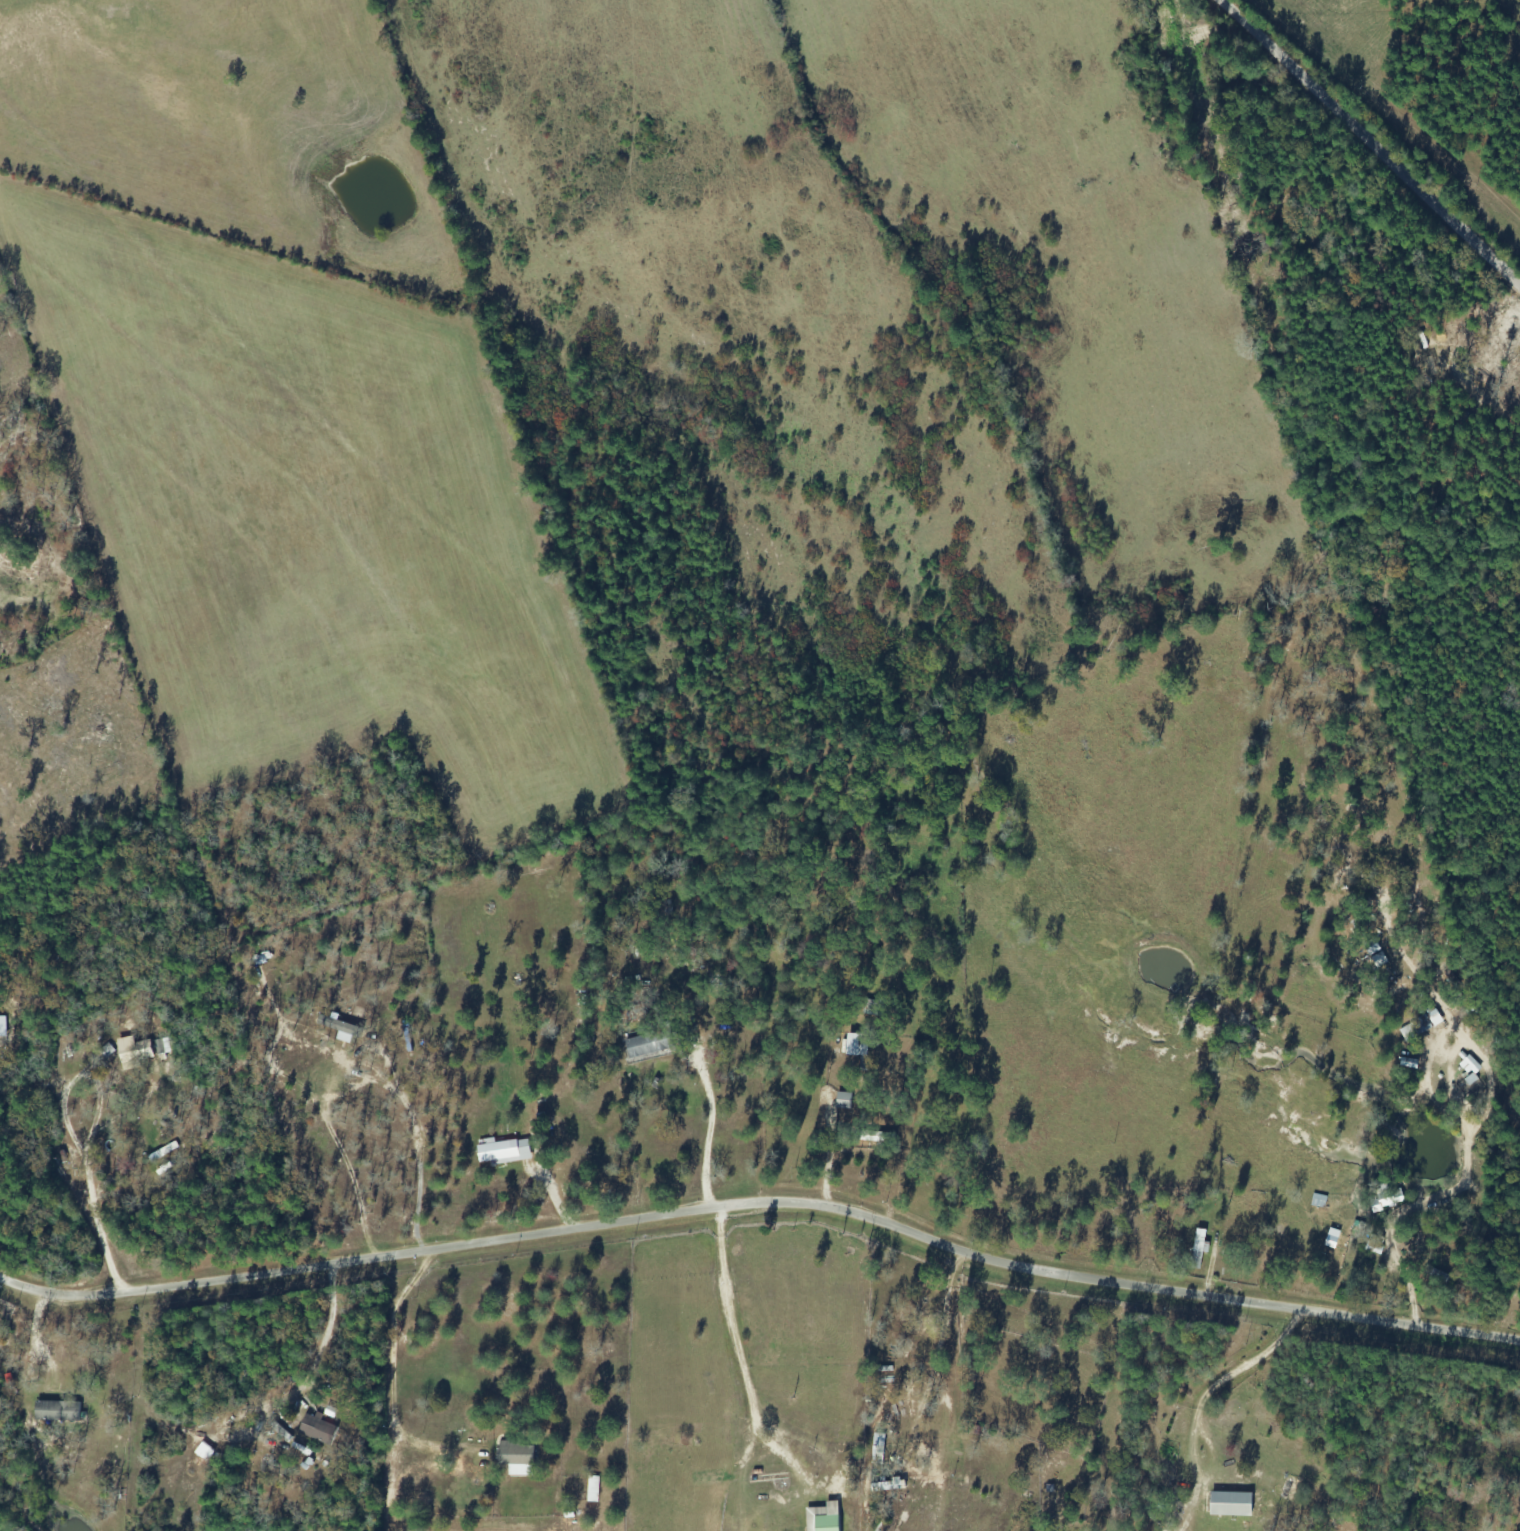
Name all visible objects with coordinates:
road: (1367, 144)
building: (1423, 1026)
building: (343, 1029)
building: (857, 1045)
building: (139, 1052)
building: (1471, 1074)
building: (505, 1152)
building: (1387, 1199)
road: (763, 1202)
building: (58, 1412)
building: (319, 1429)
building: (517, 1458)
building: (1232, 1504)
building: (824, 1518)

